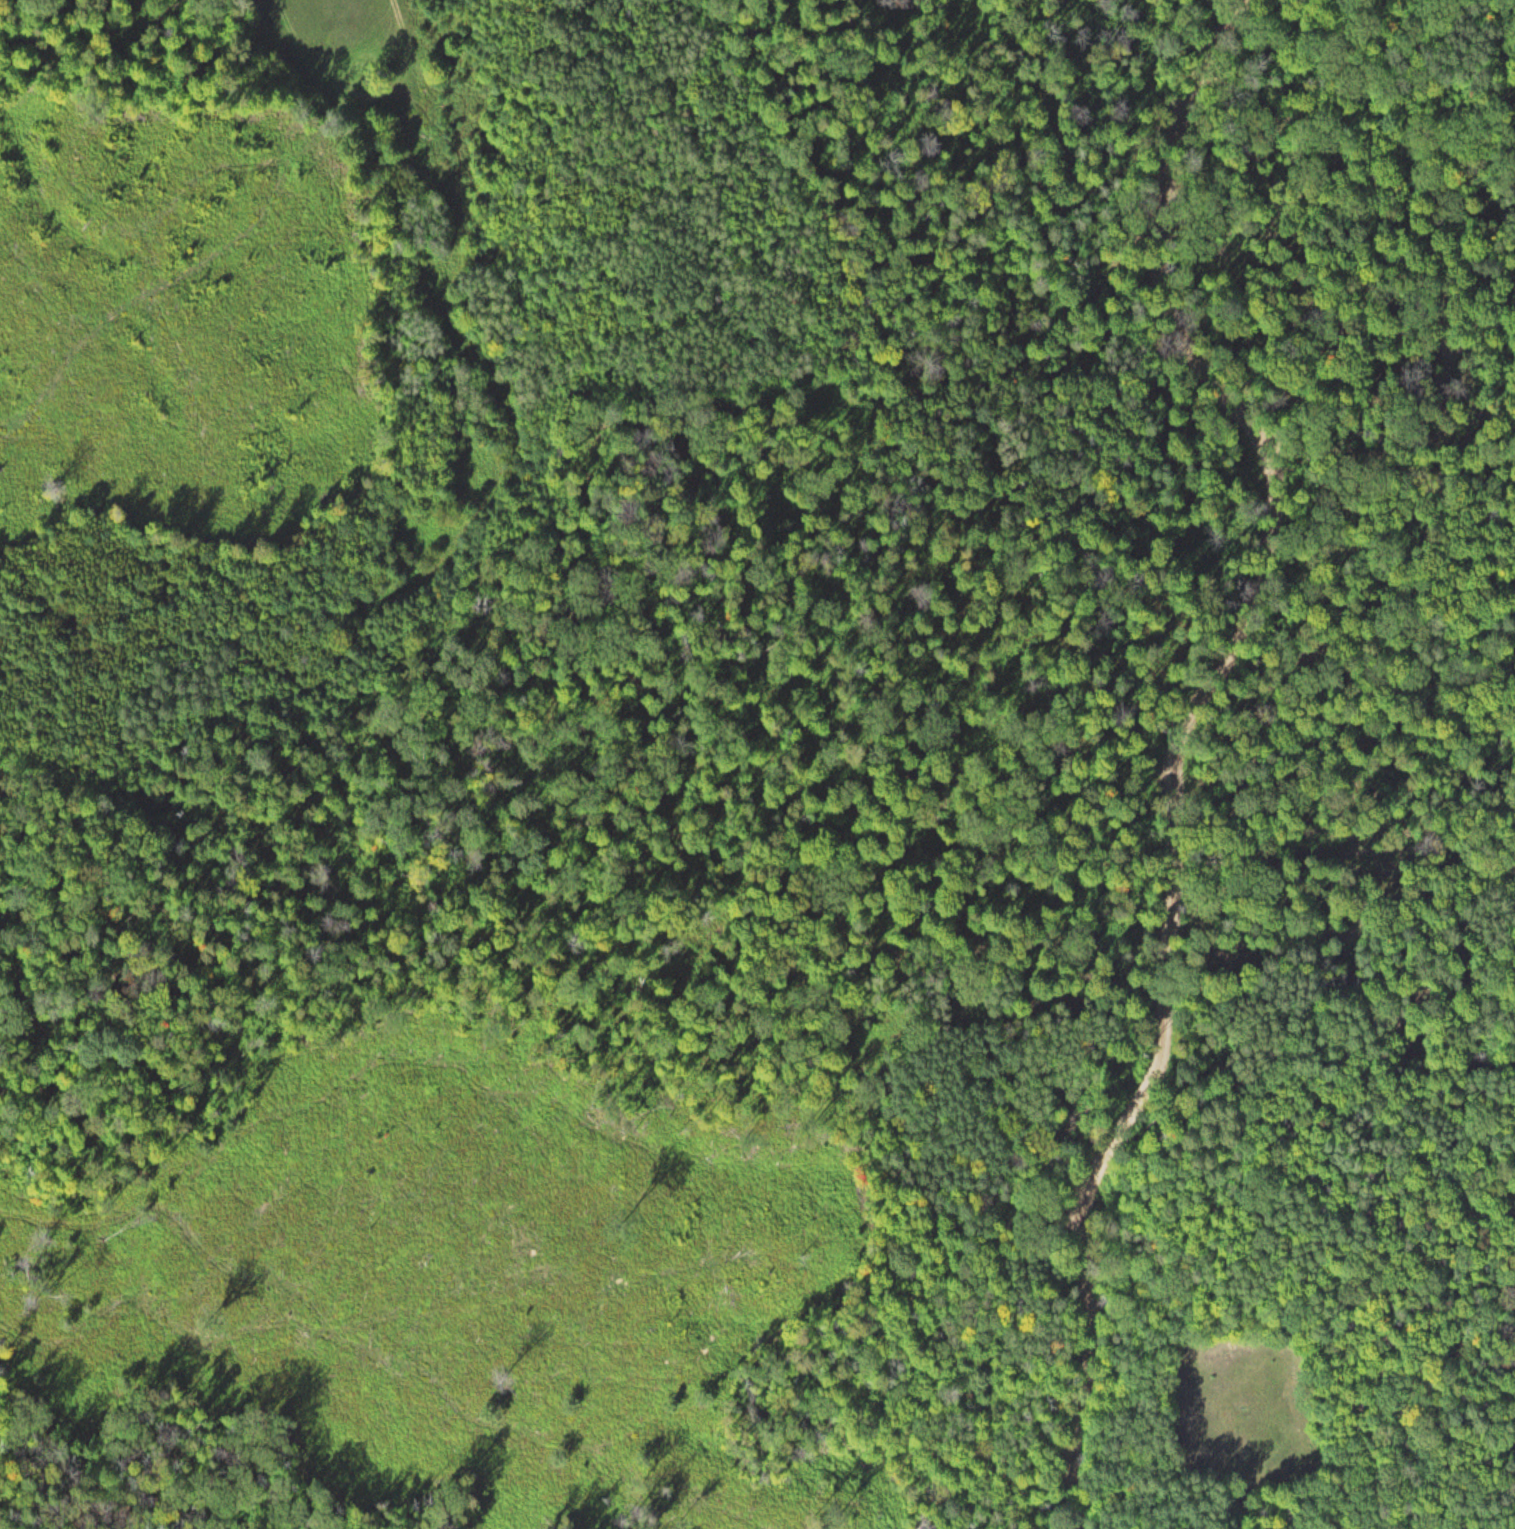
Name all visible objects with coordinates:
road: (400, 22)
road: (1190, 738)
road: (733, 865)

